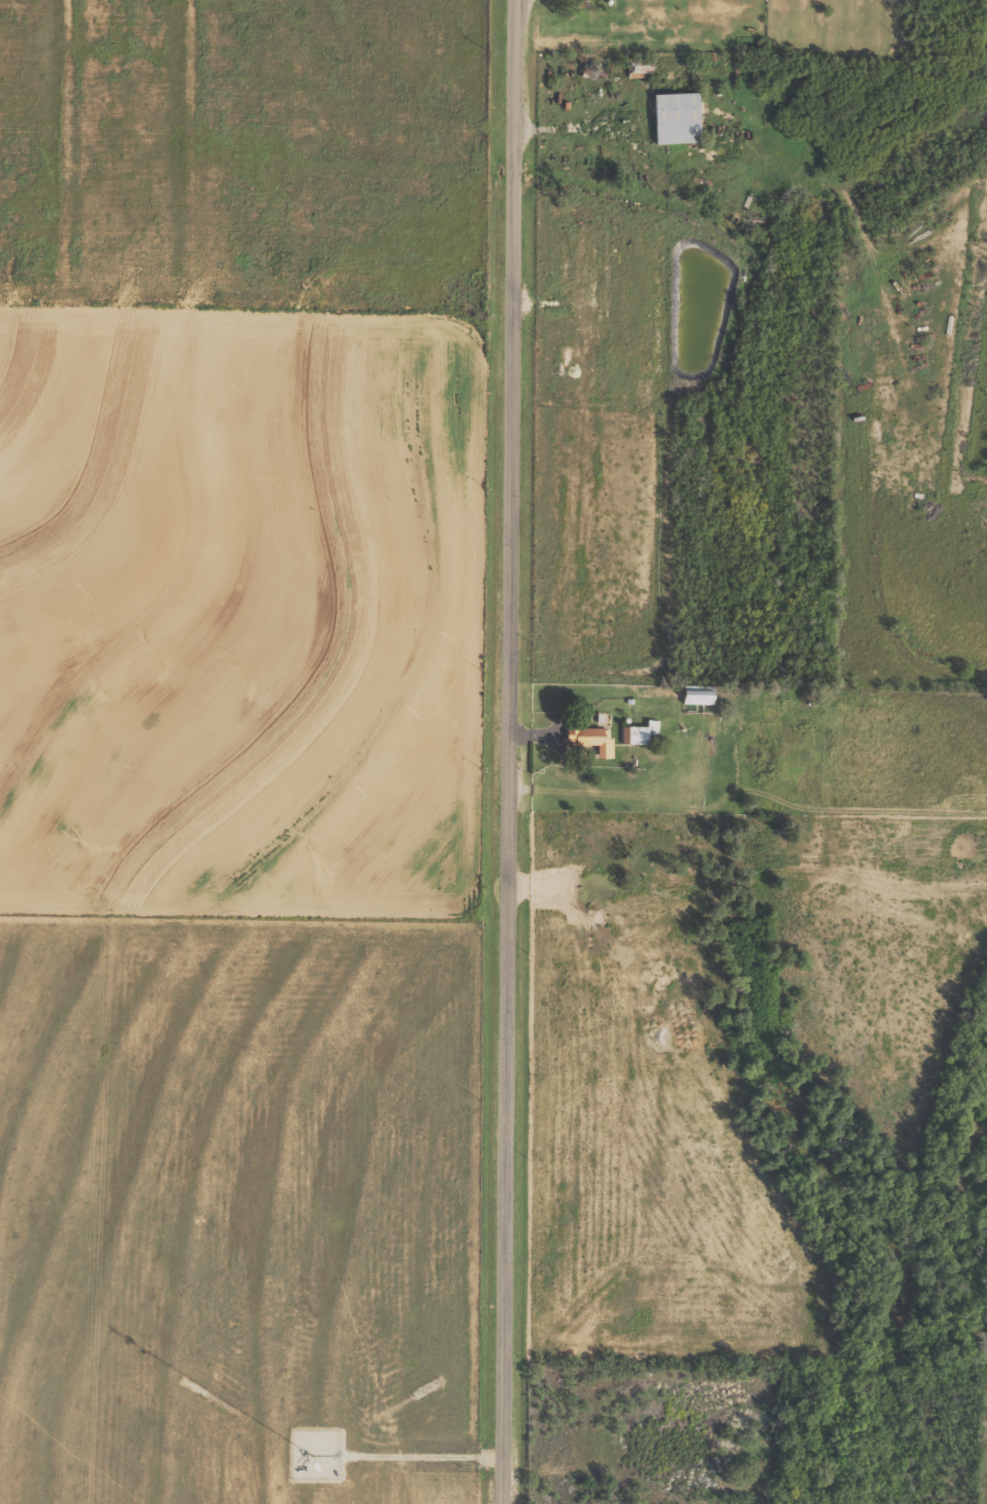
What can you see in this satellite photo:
building: (644, 69)
building: (681, 117)
building: (642, 733)
building: (593, 738)
road: (511, 752)

